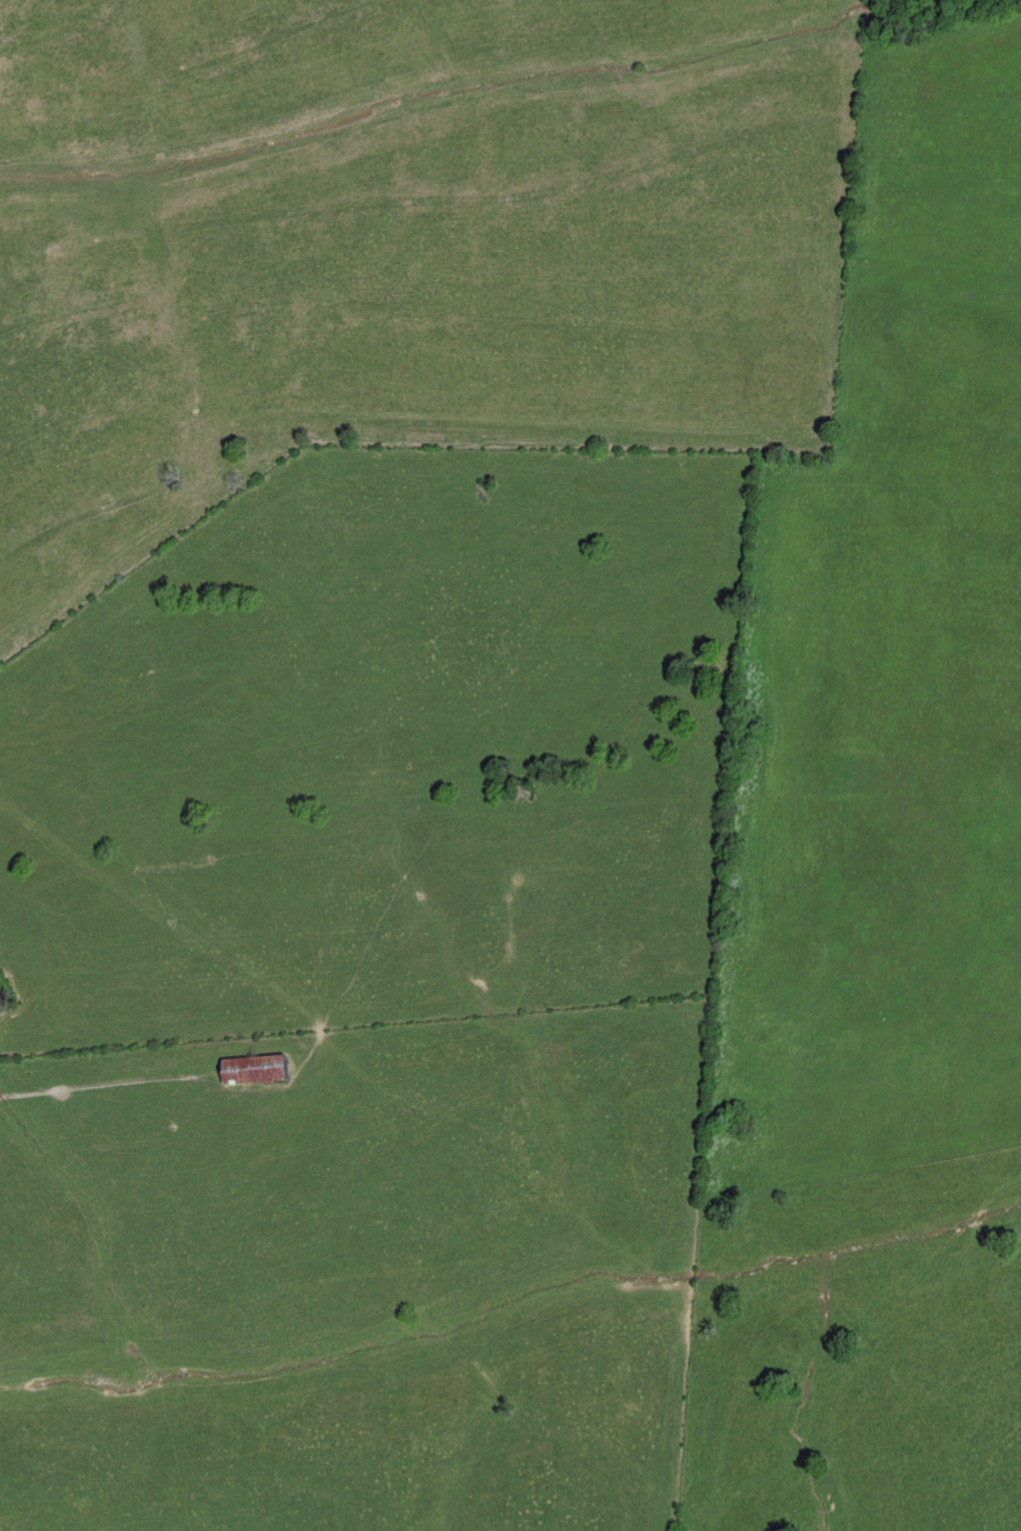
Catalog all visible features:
road: (36, 742)
building: (250, 1070)

